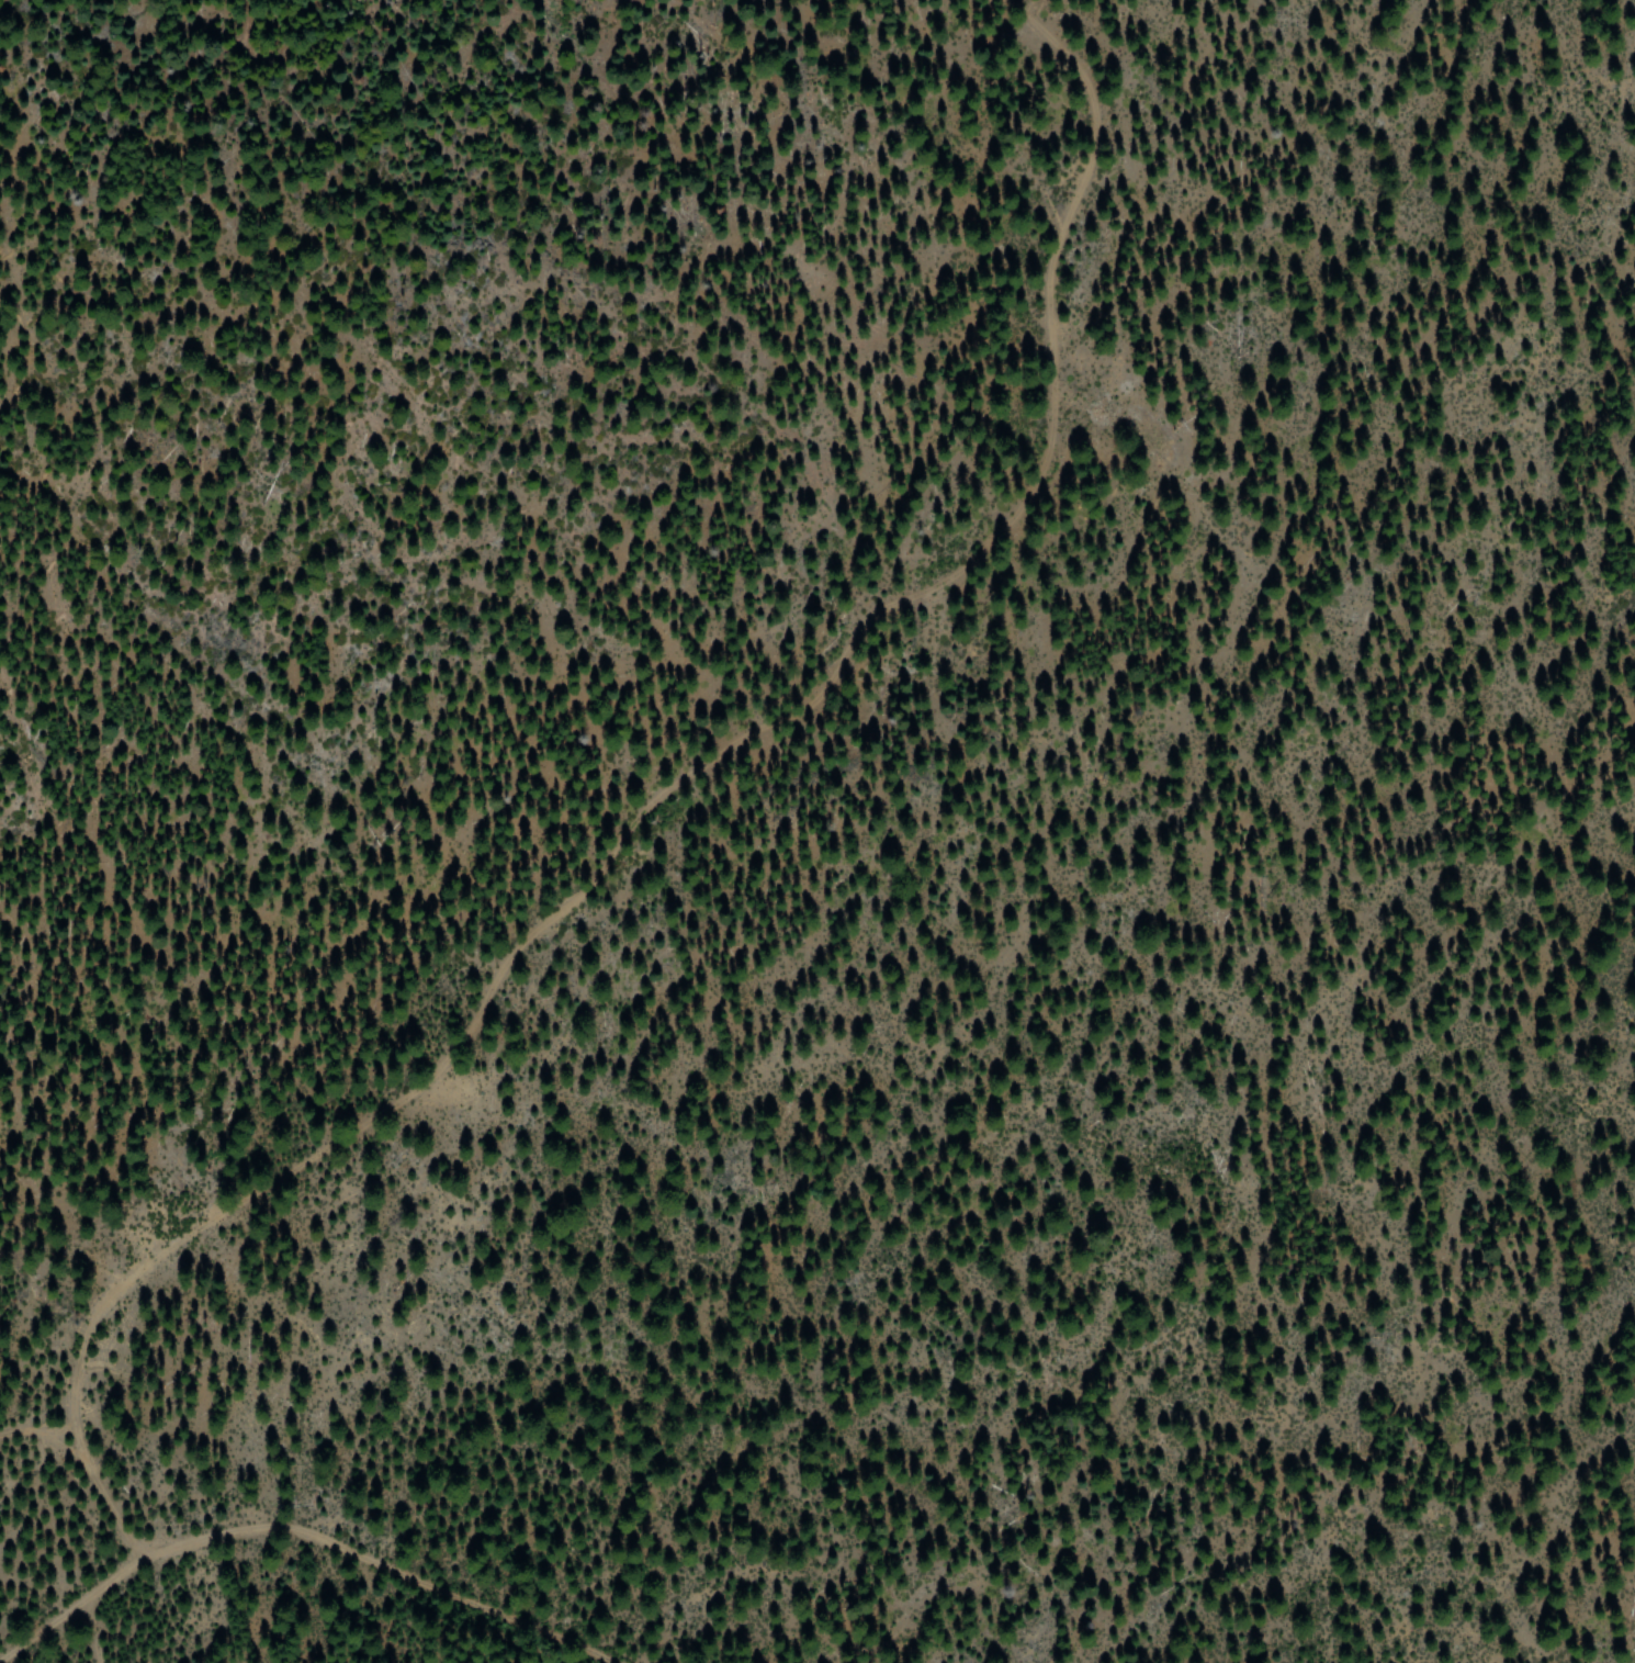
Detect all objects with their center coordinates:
road: (313, 1542)

